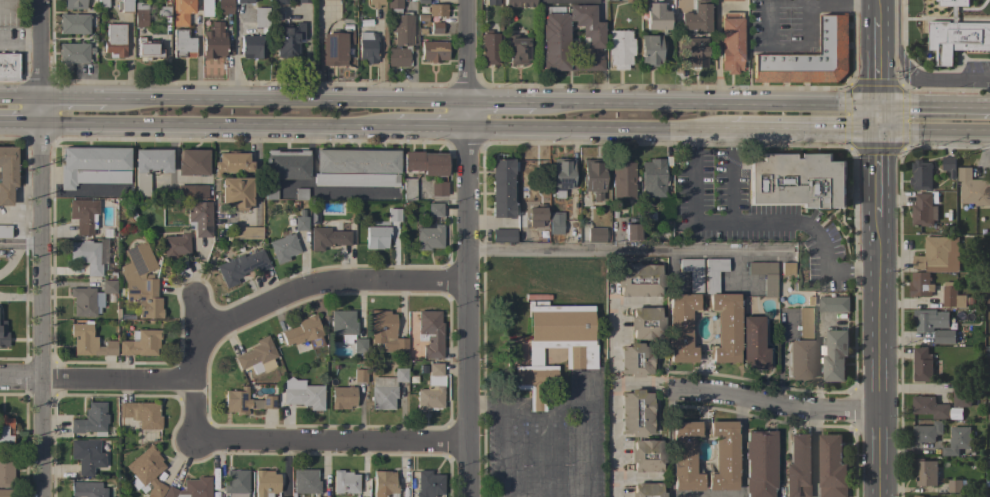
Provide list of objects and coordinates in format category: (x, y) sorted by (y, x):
building: (722, 0)
building: (243, 1)
building: (278, 1)
building: (304, 1)
building: (569, 1)
building: (632, 1)
building: (492, 2)
building: (103, 3)
building: (375, 3)
building: (519, 3)
road: (805, 3)
building: (74, 4)
building: (125, 6)
building: (394, 6)
building: (225, 7)
road: (879, 8)
building: (164, 9)
building: (437, 10)
building: (181, 11)
building: (140, 14)
building: (656, 15)
building: (261, 17)
building: (696, 17)
building: (74, 23)
building: (436, 28)
building: (956, 35)
building: (115, 39)
building: (289, 39)
building: (214, 41)
building: (401, 41)
building: (554, 42)
building: (730, 42)
building: (182, 44)
building: (252, 46)
building: (367, 46)
building: (335, 47)
building: (490, 47)
building: (620, 48)
road: (43, 49)
building: (148, 49)
building: (433, 50)
building: (517, 50)
building: (650, 50)
building: (74, 52)
building: (695, 52)
building: (822, 54)
road: (716, 55)
road: (877, 62)
road: (466, 65)
building: (9, 67)
building: (768, 68)
road: (925, 77)
road: (22, 98)
road: (74, 99)
road: (284, 102)
road: (499, 107)
road: (705, 107)
traffic signals: (877, 109)
road: (933, 109)
road: (876, 123)
road: (22, 125)
road: (217, 128)
road: (427, 130)
road: (594, 132)
road: (800, 135)
traffic signals: (876, 137)
road: (933, 137)
building: (357, 161)
building: (192, 162)
building: (232, 163)
building: (424, 163)
building: (949, 165)
building: (93, 166)
building: (149, 167)
building: (284, 169)
building: (7, 173)
building: (921, 175)
building: (561, 176)
building: (653, 177)
road: (731, 177)
road: (876, 177)
building: (593, 178)
building: (622, 179)
building: (356, 180)
building: (798, 180)
building: (502, 188)
building: (973, 188)
building: (409, 189)
building: (438, 189)
building: (192, 192)
building: (235, 193)
building: (301, 194)
building: (434, 209)
building: (924, 212)
building: (84, 215)
building: (394, 215)
building: (536, 216)
building: (200, 218)
road: (757, 220)
building: (300, 223)
building: (555, 225)
building: (5, 231)
building: (632, 232)
building: (243, 233)
building: (376, 235)
building: (503, 235)
building: (596, 235)
building: (429, 237)
building: (327, 238)
building: (661, 238)
road: (22, 242)
building: (176, 244)
building: (283, 248)
road: (627, 250)
building: (86, 255)
building: (939, 255)
building: (240, 267)
building: (786, 268)
building: (692, 273)
building: (713, 273)
building: (764, 276)
building: (639, 280)
building: (141, 281)
road: (306, 283)
building: (920, 284)
building: (108, 286)
building: (538, 296)
building: (952, 296)
road: (45, 297)
building: (111, 298)
building: (988, 299)
building: (809, 301)
building: (85, 302)
building: (833, 304)
road: (466, 313)
building: (930, 320)
building: (646, 323)
building: (343, 325)
building: (681, 327)
building: (725, 327)
building: (386, 332)
building: (304, 333)
building: (430, 333)
building: (3, 334)
building: (944, 336)
building: (88, 342)
building: (140, 343)
building: (753, 343)
building: (359, 346)
building: (801, 349)
road: (612, 353)
building: (834, 354)
building: (257, 356)
building: (580, 356)
road: (876, 357)
building: (635, 359)
building: (922, 364)
building: (989, 366)
building: (360, 375)
road: (98, 380)
building: (413, 380)
road: (647, 384)
building: (386, 389)
building: (432, 389)
building: (961, 395)
building: (305, 396)
building: (342, 397)
building: (245, 402)
road: (772, 403)
road: (502, 407)
building: (929, 407)
building: (635, 413)
building: (989, 413)
building: (141, 414)
building: (91, 420)
building: (5, 429)
building: (927, 432)
road: (582, 436)
road: (305, 439)
road: (614, 440)
building: (957, 440)
road: (515, 441)
road: (668, 442)
road: (741, 446)
building: (90, 455)
building: (646, 456)
building: (684, 456)
building: (723, 456)
building: (759, 463)
building: (988, 463)
building: (798, 467)
building: (832, 467)
building: (6, 470)
building: (146, 471)
building: (926, 472)
building: (235, 481)
building: (305, 481)
building: (344, 482)
building: (265, 483)
building: (384, 483)
building: (428, 484)
building: (138, 486)
building: (957, 486)
building: (191, 488)
building: (87, 489)
building: (647, 490)
building: (7, 493)
building: (917, 496)
building: (931, 496)

